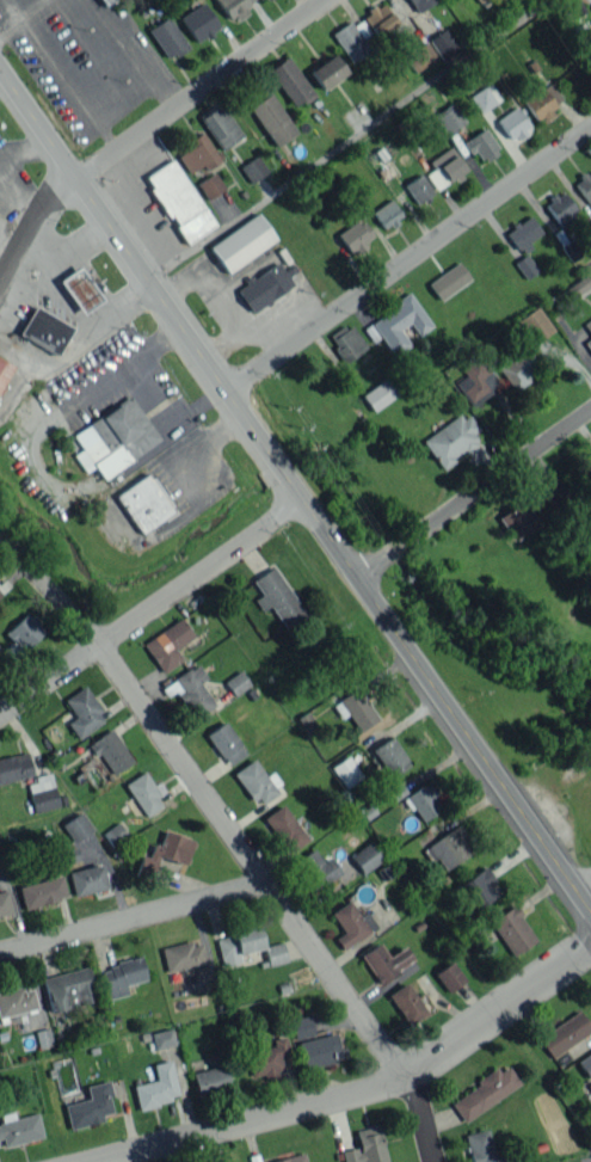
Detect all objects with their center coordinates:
building: (259, 0)
building: (105, 1)
building: (420, 4)
building: (233, 7)
road: (23, 18)
building: (378, 18)
building: (198, 21)
building: (584, 36)
building: (167, 37)
building: (353, 38)
building: (444, 45)
building: (420, 56)
building: (327, 70)
building: (290, 81)
building: (484, 97)
building: (542, 100)
building: (448, 117)
building: (272, 118)
building: (512, 123)
building: (220, 124)
road: (148, 134)
road: (345, 139)
building: (481, 145)
road: (21, 146)
building: (197, 153)
building: (444, 167)
building: (253, 168)
building: (210, 185)
building: (585, 185)
building: (417, 187)
road: (24, 201)
building: (179, 201)
building: (560, 208)
building: (386, 213)
building: (524, 233)
building: (355, 235)
building: (241, 242)
road: (73, 245)
road: (408, 260)
building: (525, 265)
building: (448, 281)
building: (577, 285)
building: (264, 287)
building: (79, 289)
building: (396, 324)
building: (534, 324)
road: (87, 325)
building: (44, 330)
building: (589, 330)
building: (346, 342)
building: (518, 369)
building: (4, 370)
building: (478, 379)
road: (153, 392)
building: (378, 393)
building: (113, 437)
building: (451, 438)
building: (589, 472)
road: (296, 488)
building: (553, 490)
road: (473, 491)
building: (143, 502)
building: (516, 519)
road: (199, 571)
building: (276, 596)
building: (19, 637)
building: (167, 644)
road: (48, 674)
building: (236, 682)
building: (193, 689)
building: (355, 708)
building: (82, 712)
building: (224, 743)
building: (110, 750)
building: (389, 756)
building: (14, 767)
building: (345, 770)
building: (256, 781)
building: (144, 792)
building: (42, 793)
building: (424, 800)
road: (210, 803)
building: (75, 826)
building: (284, 828)
building: (116, 831)
building: (448, 847)
building: (170, 848)
building: (365, 856)
building: (0, 860)
building: (316, 867)
building: (86, 879)
building: (475, 890)
building: (41, 891)
building: (4, 903)
road: (131, 920)
building: (346, 924)
building: (512, 929)
building: (236, 943)
building: (273, 953)
building: (181, 954)
building: (384, 961)
building: (121, 976)
building: (449, 976)
building: (68, 989)
building: (17, 1001)
building: (406, 1003)
building: (301, 1026)
building: (564, 1032)
building: (43, 1037)
building: (161, 1038)
building: (320, 1050)
building: (266, 1058)
building: (585, 1064)
building: (209, 1080)
building: (589, 1083)
building: (156, 1086)
road: (368, 1090)
building: (482, 1092)
building: (88, 1106)
road: (419, 1120)
building: (18, 1127)
building: (365, 1145)
building: (480, 1146)
building: (293, 1160)

